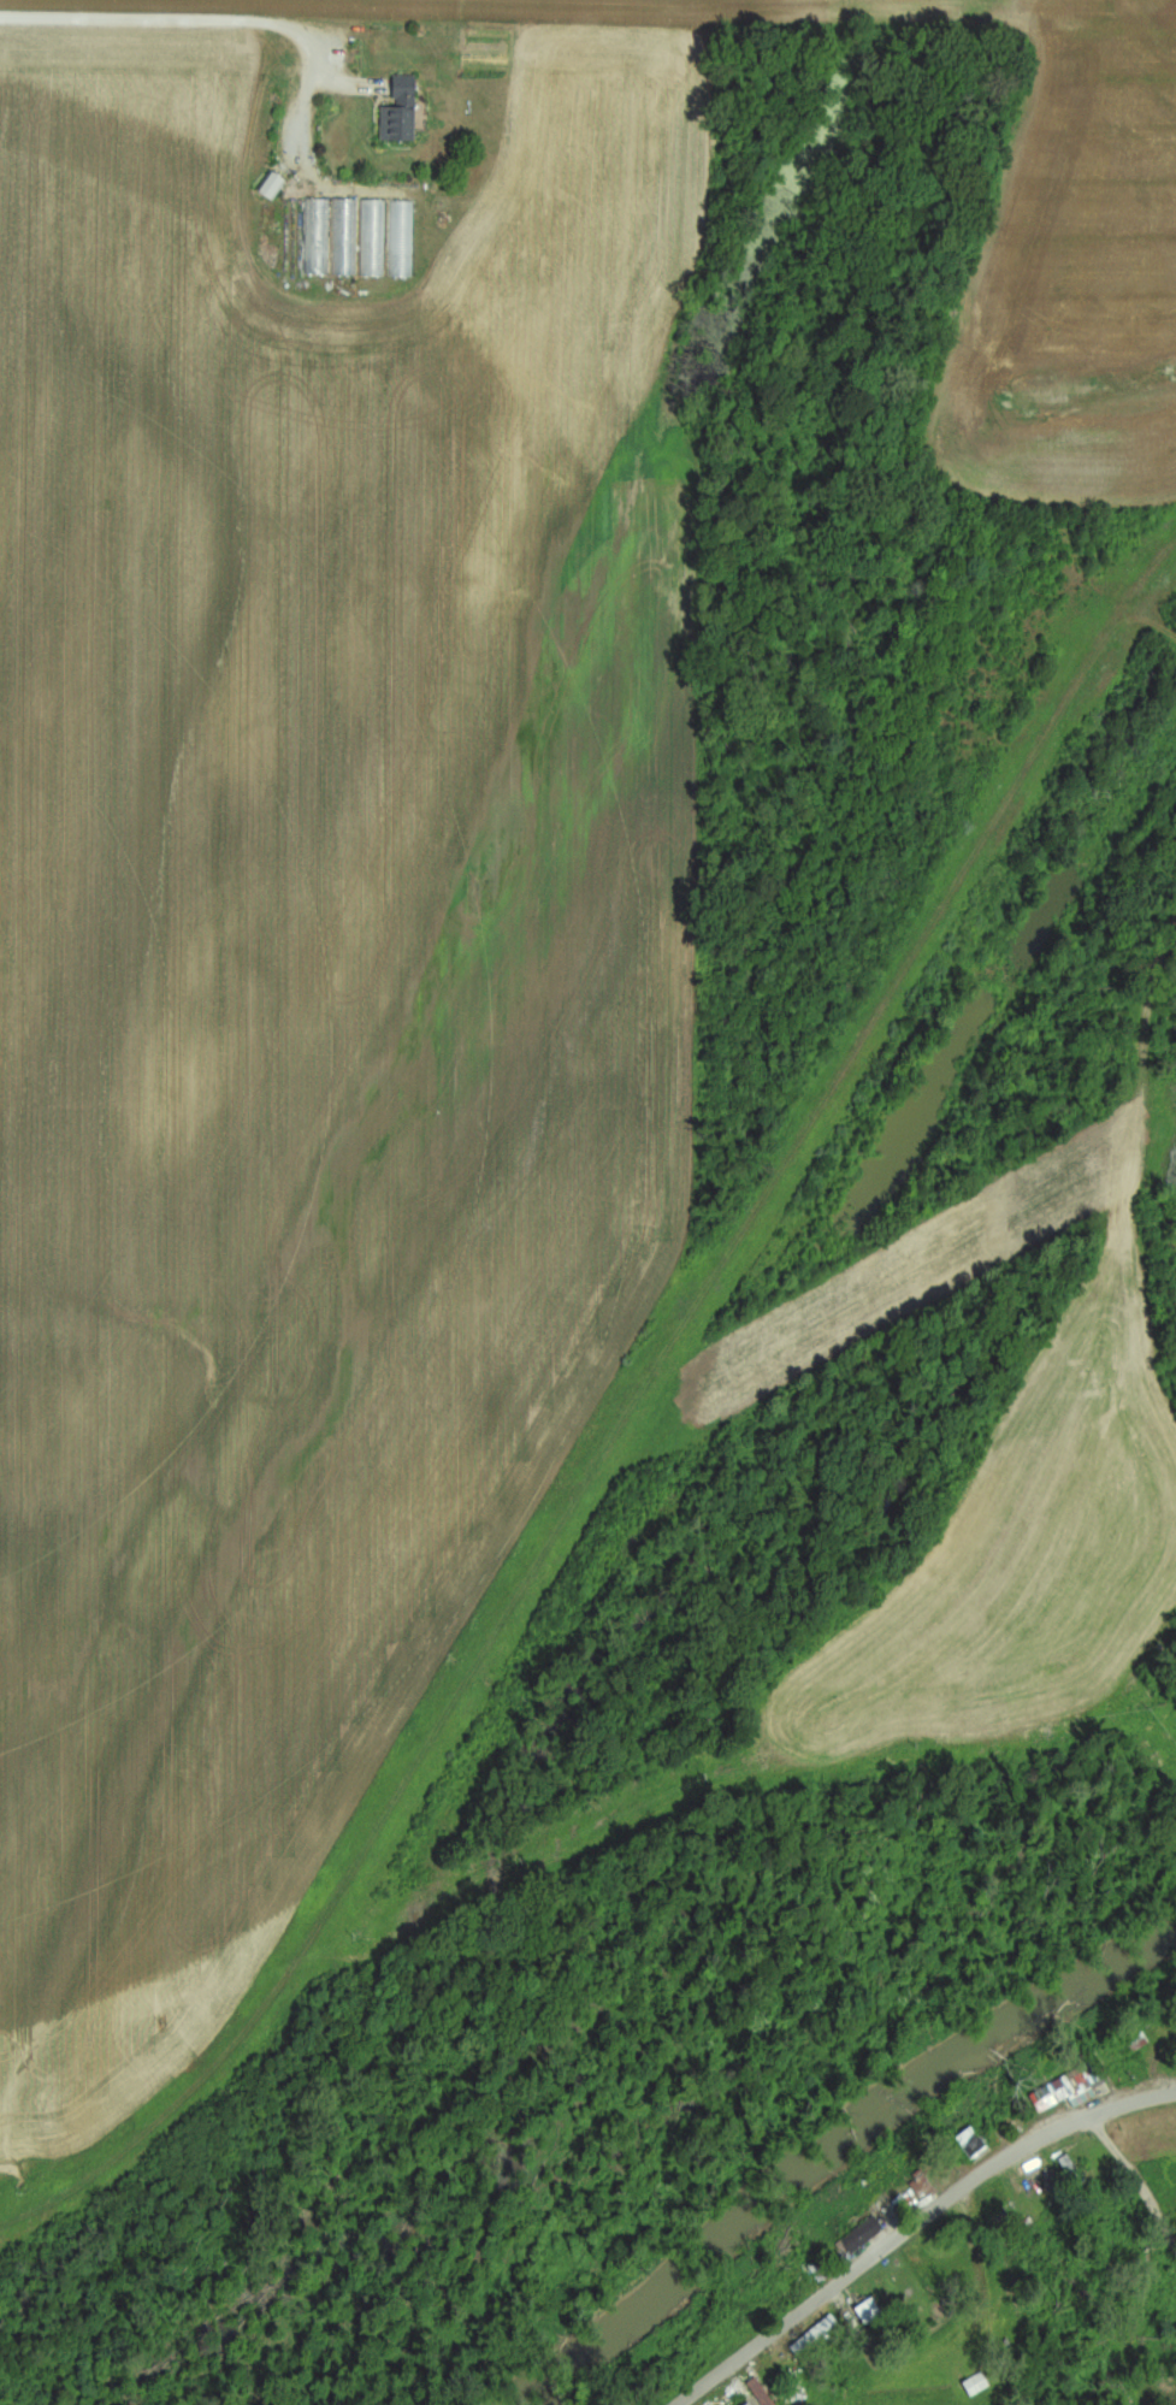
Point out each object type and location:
road: (226, 13)
parking lot: (301, 66)
road: (350, 82)
building: (403, 111)
building: (274, 187)
building: (320, 237)
building: (348, 237)
building: (376, 237)
building: (406, 238)
building: (1071, 2090)
building: (969, 2145)
river: (838, 2149)
road: (1137, 2181)
road: (912, 2223)
building: (857, 2241)
building: (862, 2316)
building: (980, 2383)
building: (762, 2392)
building: (752, 2403)

